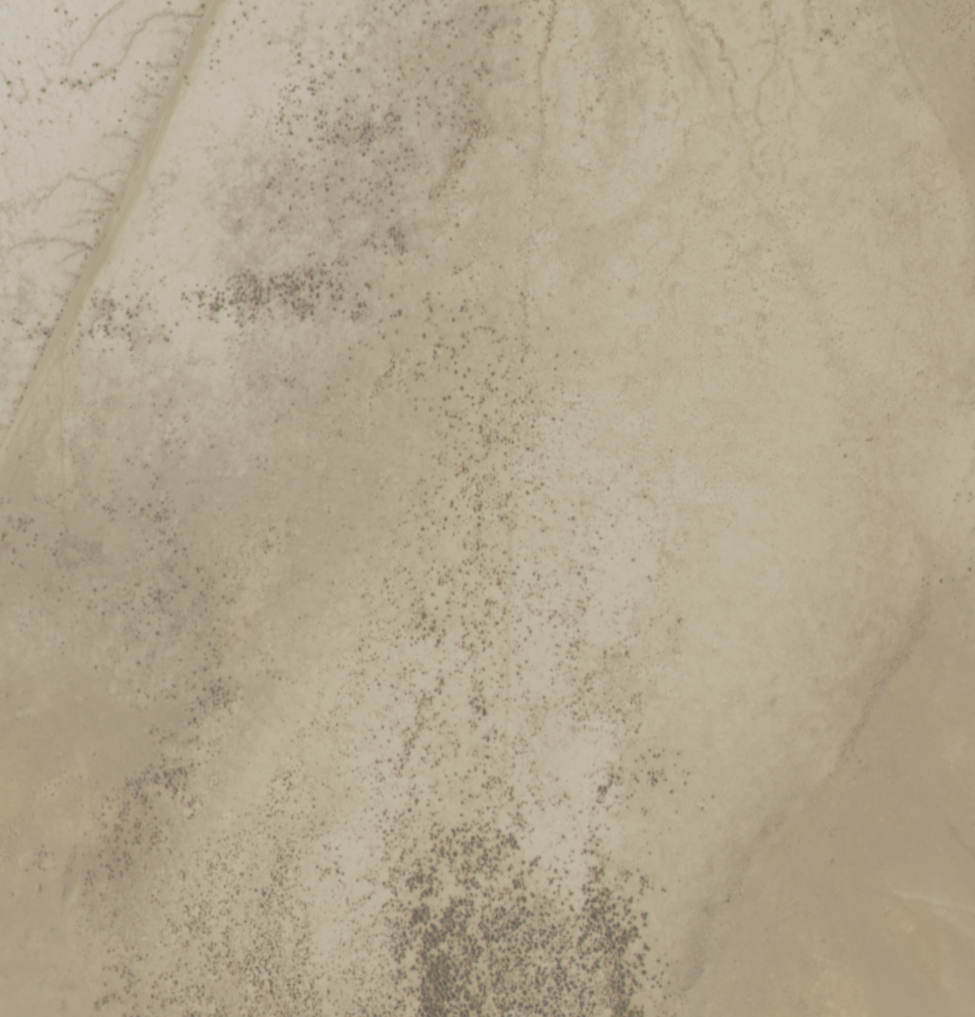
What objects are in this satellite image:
road: (118, 253)

